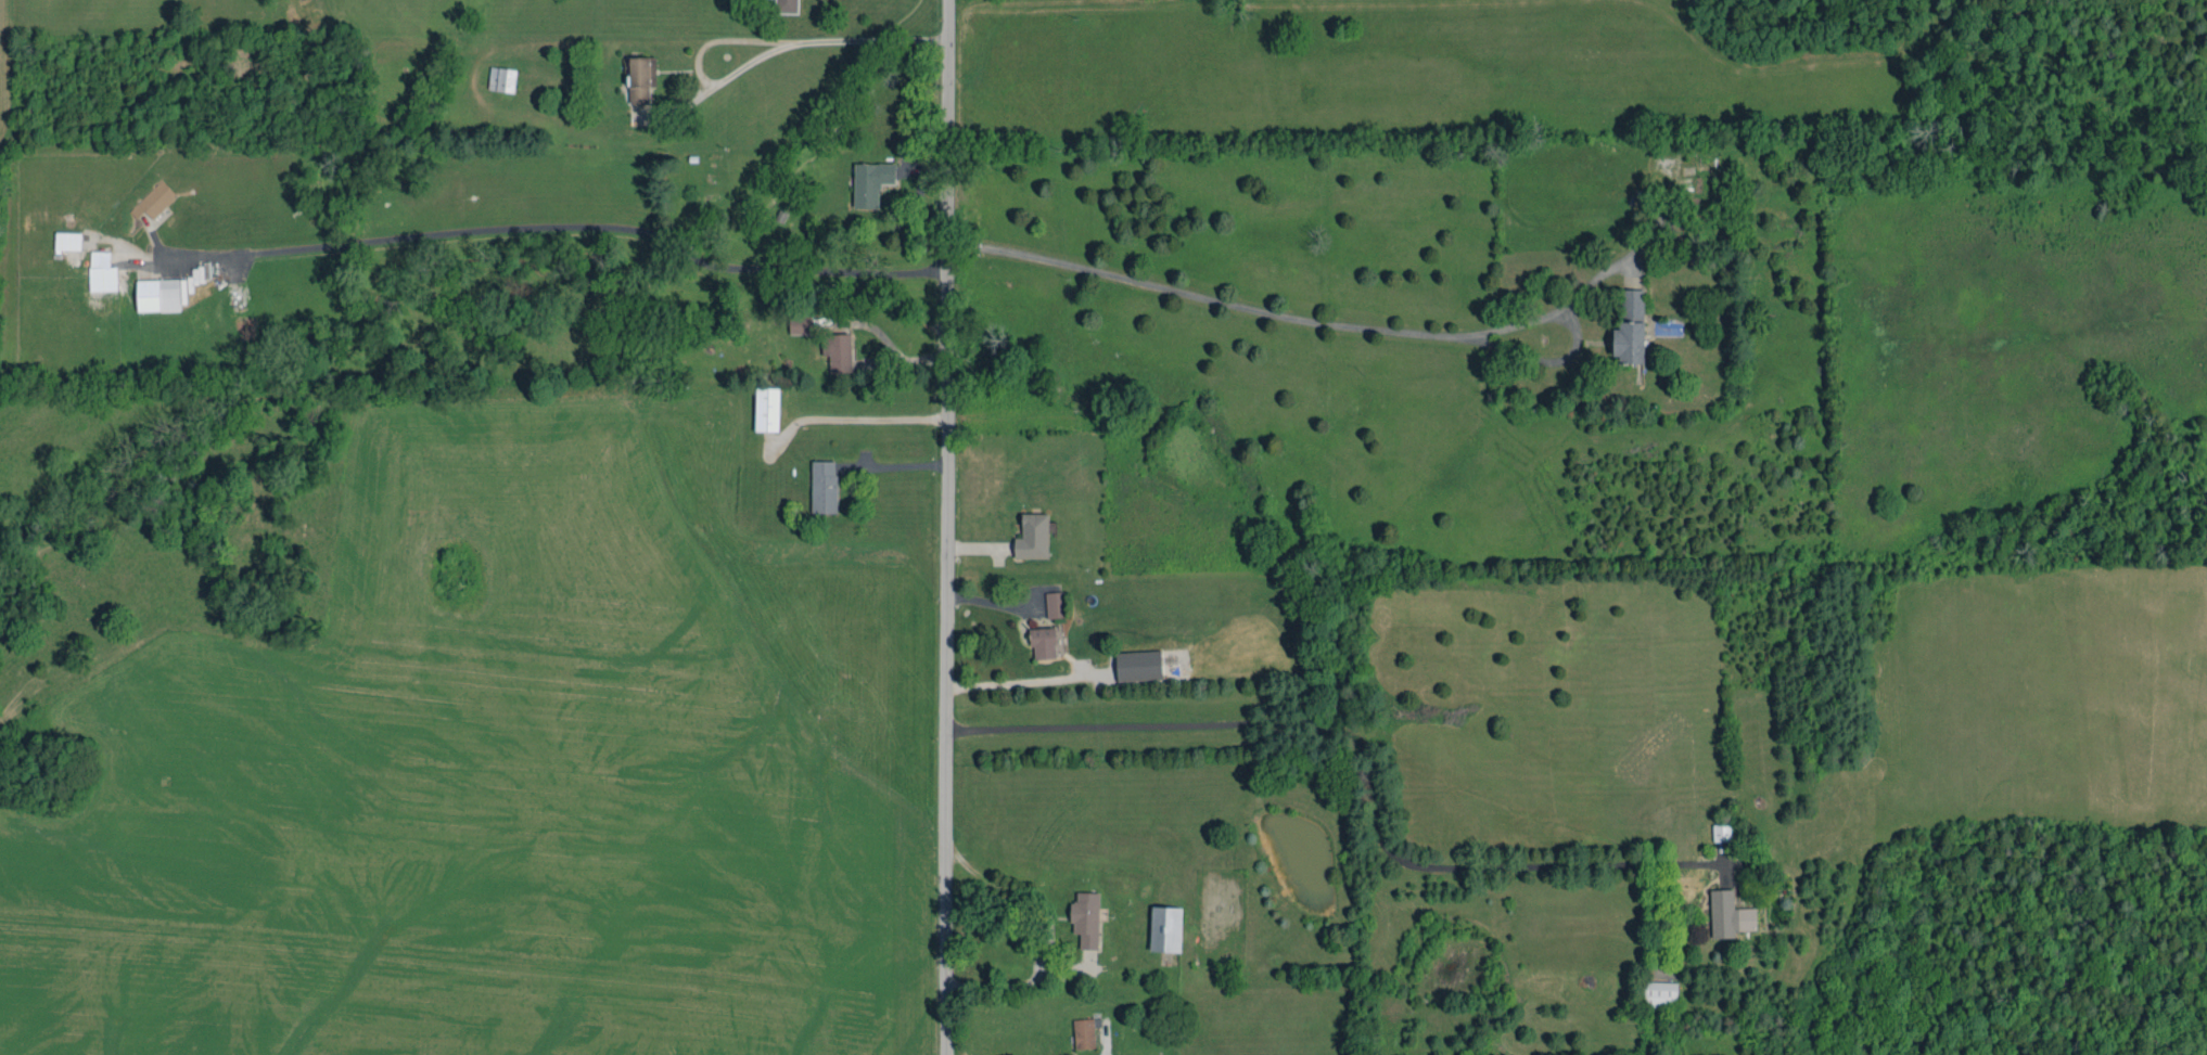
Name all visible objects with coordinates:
building: (786, 7)
road: (788, 44)
building: (501, 79)
building: (641, 79)
building: (870, 183)
building: (154, 201)
road: (566, 228)
building: (68, 242)
building: (102, 272)
building: (167, 291)
road: (1287, 318)
building: (1631, 330)
building: (838, 352)
building: (767, 409)
building: (824, 487)
road: (945, 527)
building: (1033, 537)
road: (607, 543)
building: (1053, 605)
building: (1043, 643)
building: (1139, 666)
road: (1010, 682)
road: (1368, 756)
building: (1721, 833)
road: (999, 878)
building: (1730, 915)
building: (1085, 919)
building: (1165, 929)
building: (1660, 994)
building: (1084, 1033)
road: (1109, 1050)

